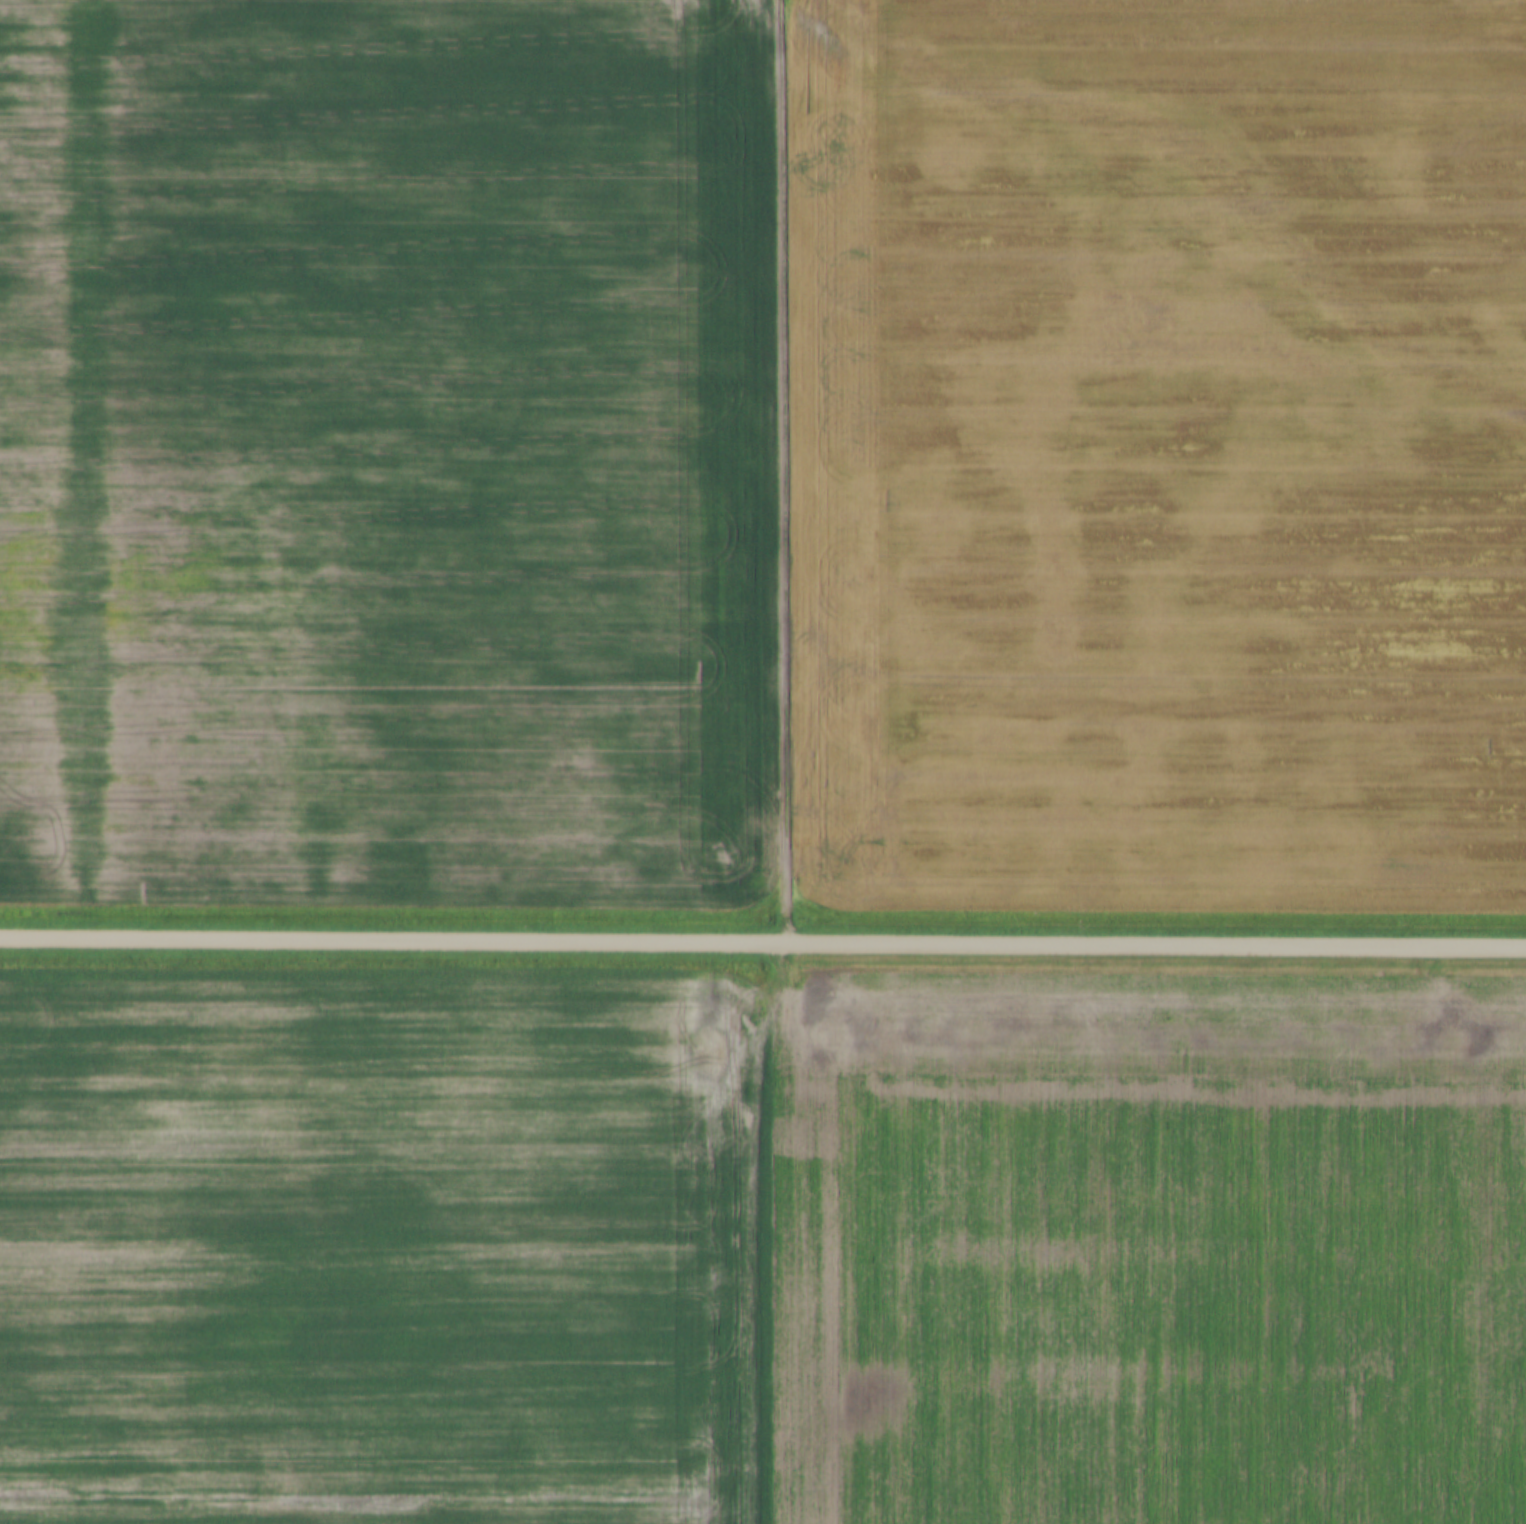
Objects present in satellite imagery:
road: (780, 471)
road: (763, 943)

